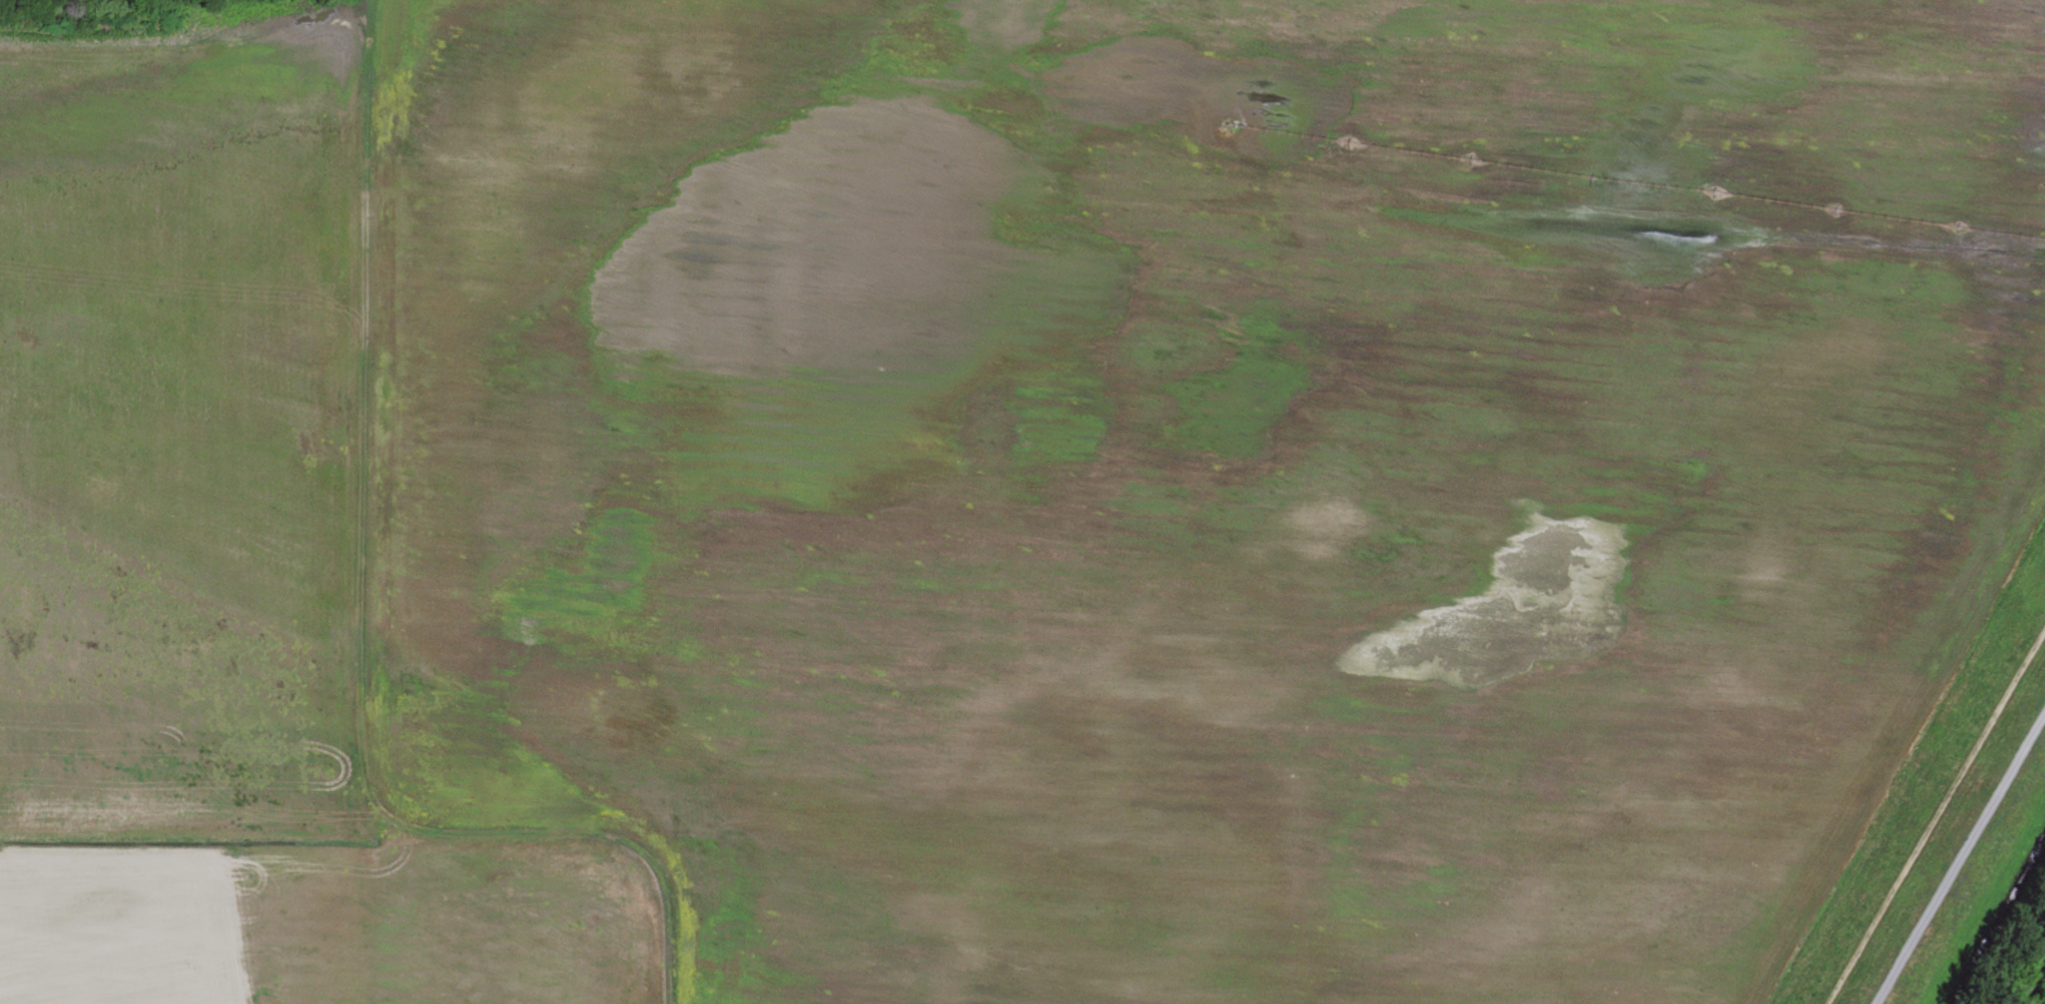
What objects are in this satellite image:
road: (1938, 822)
road: (1961, 860)

